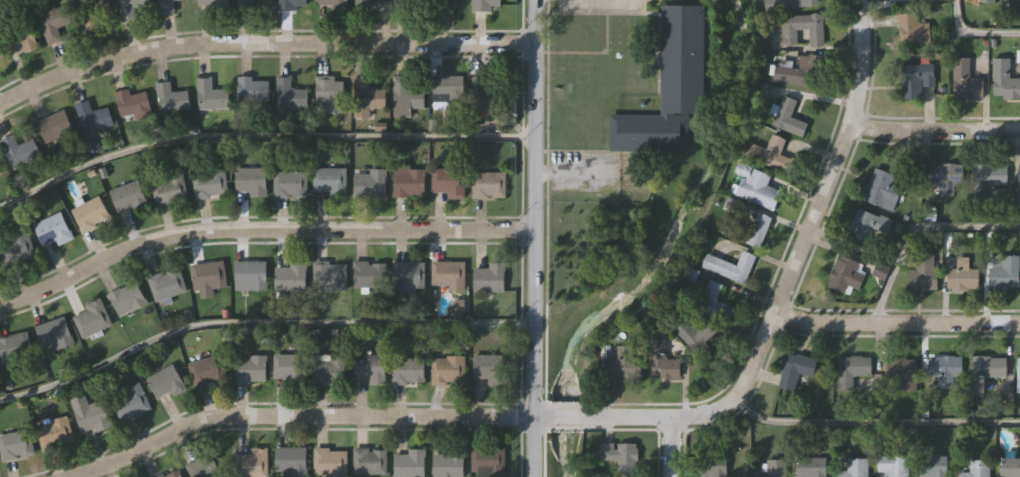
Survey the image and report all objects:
building: (914, 0)
building: (1018, 0)
building: (985, 1)
building: (254, 2)
building: (408, 2)
building: (212, 3)
building: (801, 3)
building: (291, 4)
building: (360, 4)
building: (484, 4)
building: (332, 5)
building: (166, 6)
building: (129, 8)
building: (54, 21)
building: (803, 29)
building: (912, 31)
road: (972, 35)
building: (24, 38)
road: (261, 41)
building: (798, 72)
building: (915, 79)
building: (965, 81)
building: (1004, 81)
building: (448, 86)
building: (670, 86)
building: (252, 88)
building: (210, 94)
building: (288, 94)
building: (330, 95)
building: (489, 95)
building: (367, 96)
building: (404, 96)
building: (170, 98)
building: (131, 101)
building: (93, 116)
building: (788, 118)
building: (54, 126)
road: (933, 132)
road: (260, 137)
building: (18, 150)
building: (770, 153)
building: (0, 174)
building: (1018, 175)
building: (947, 177)
building: (984, 178)
building: (249, 180)
building: (328, 180)
building: (408, 181)
building: (447, 181)
building: (208, 183)
building: (289, 183)
building: (369, 183)
building: (488, 184)
building: (756, 187)
building: (168, 188)
building: (881, 190)
building: (128, 196)
building: (90, 213)
building: (52, 229)
road: (915, 229)
road: (261, 230)
building: (747, 230)
building: (867, 230)
road: (535, 238)
building: (15, 248)
building: (731, 266)
building: (880, 271)
building: (925, 272)
building: (1003, 272)
building: (408, 273)
building: (369, 274)
building: (447, 274)
building: (249, 275)
building: (329, 275)
building: (846, 275)
building: (290, 276)
building: (207, 277)
building: (489, 278)
building: (962, 279)
building: (166, 283)
building: (126, 298)
building: (714, 302)
building: (91, 318)
road: (260, 323)
road: (896, 323)
building: (54, 333)
building: (698, 336)
building: (14, 346)
building: (626, 362)
building: (662, 362)
building: (289, 367)
building: (488, 367)
building: (249, 368)
building: (369, 368)
building: (330, 369)
building: (450, 369)
building: (945, 369)
building: (206, 370)
building: (407, 370)
building: (795, 370)
building: (852, 370)
building: (985, 371)
building: (903, 373)
building: (1018, 375)
building: (164, 382)
building: (130, 401)
building: (89, 414)
road: (608, 416)
road: (870, 422)
building: (55, 433)
building: (15, 444)
road: (670, 445)
building: (621, 456)
building: (290, 461)
building: (369, 461)
building: (252, 462)
building: (329, 462)
building: (448, 462)
building: (487, 462)
building: (409, 463)
building: (205, 465)
building: (710, 465)
building: (893, 465)
building: (811, 467)
building: (931, 467)
building: (773, 468)
building: (854, 468)
building: (973, 468)
building: (1009, 468)
building: (169, 474)

